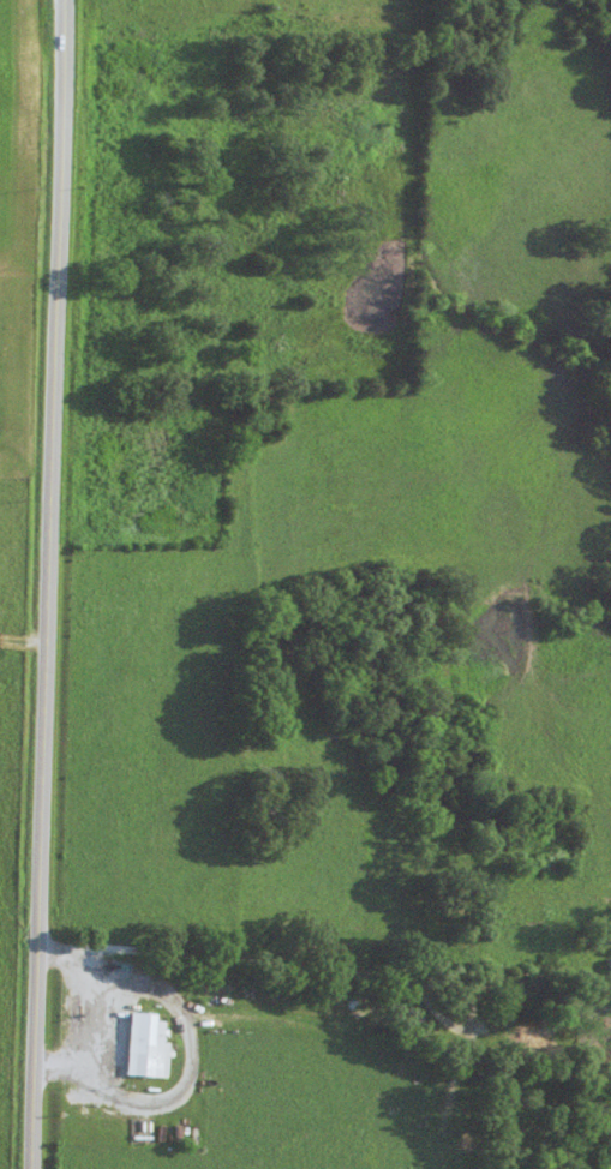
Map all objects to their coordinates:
road: (53, 584)
road: (25, 645)
road: (284, 967)
building: (607, 976)
building: (533, 1039)
building: (145, 1045)

